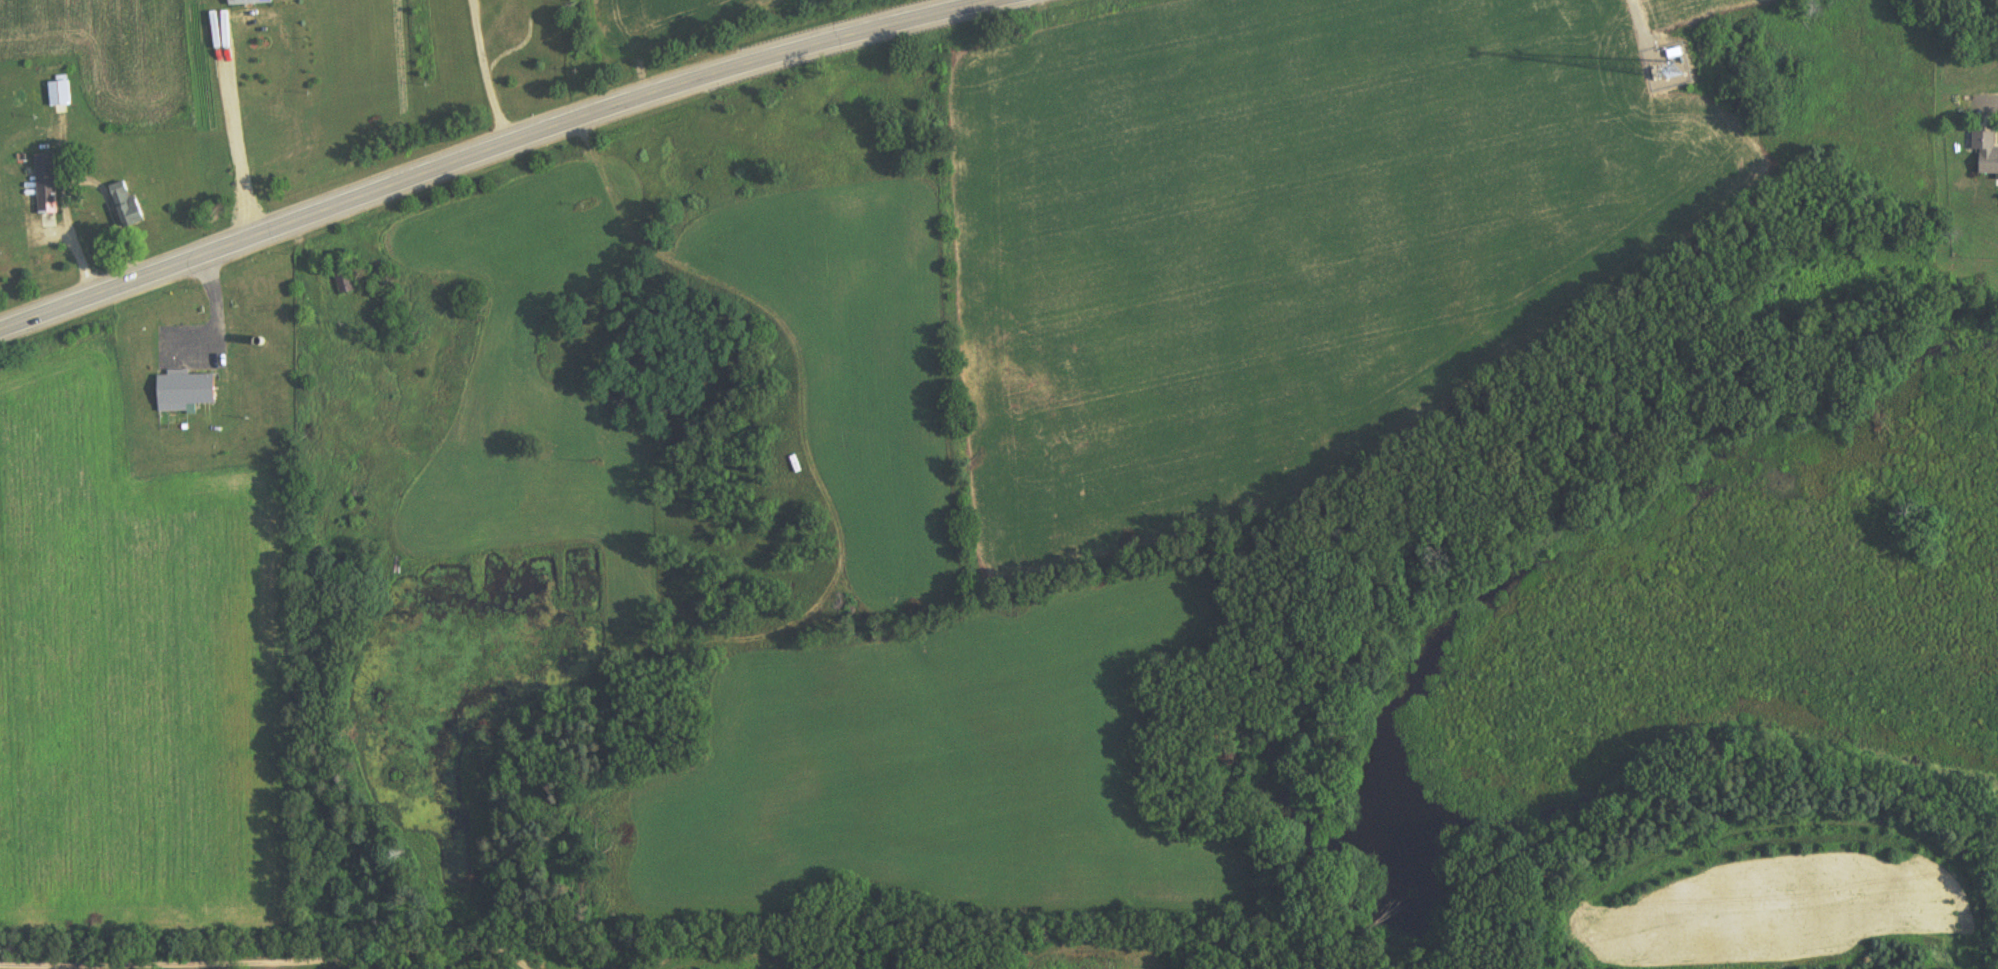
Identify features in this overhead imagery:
building: (250, 3)
road: (1637, 22)
building: (60, 96)
road: (1990, 100)
road: (457, 139)
building: (1986, 153)
building: (47, 185)
building: (126, 207)
building: (346, 283)
building: (187, 391)
road: (262, 961)

